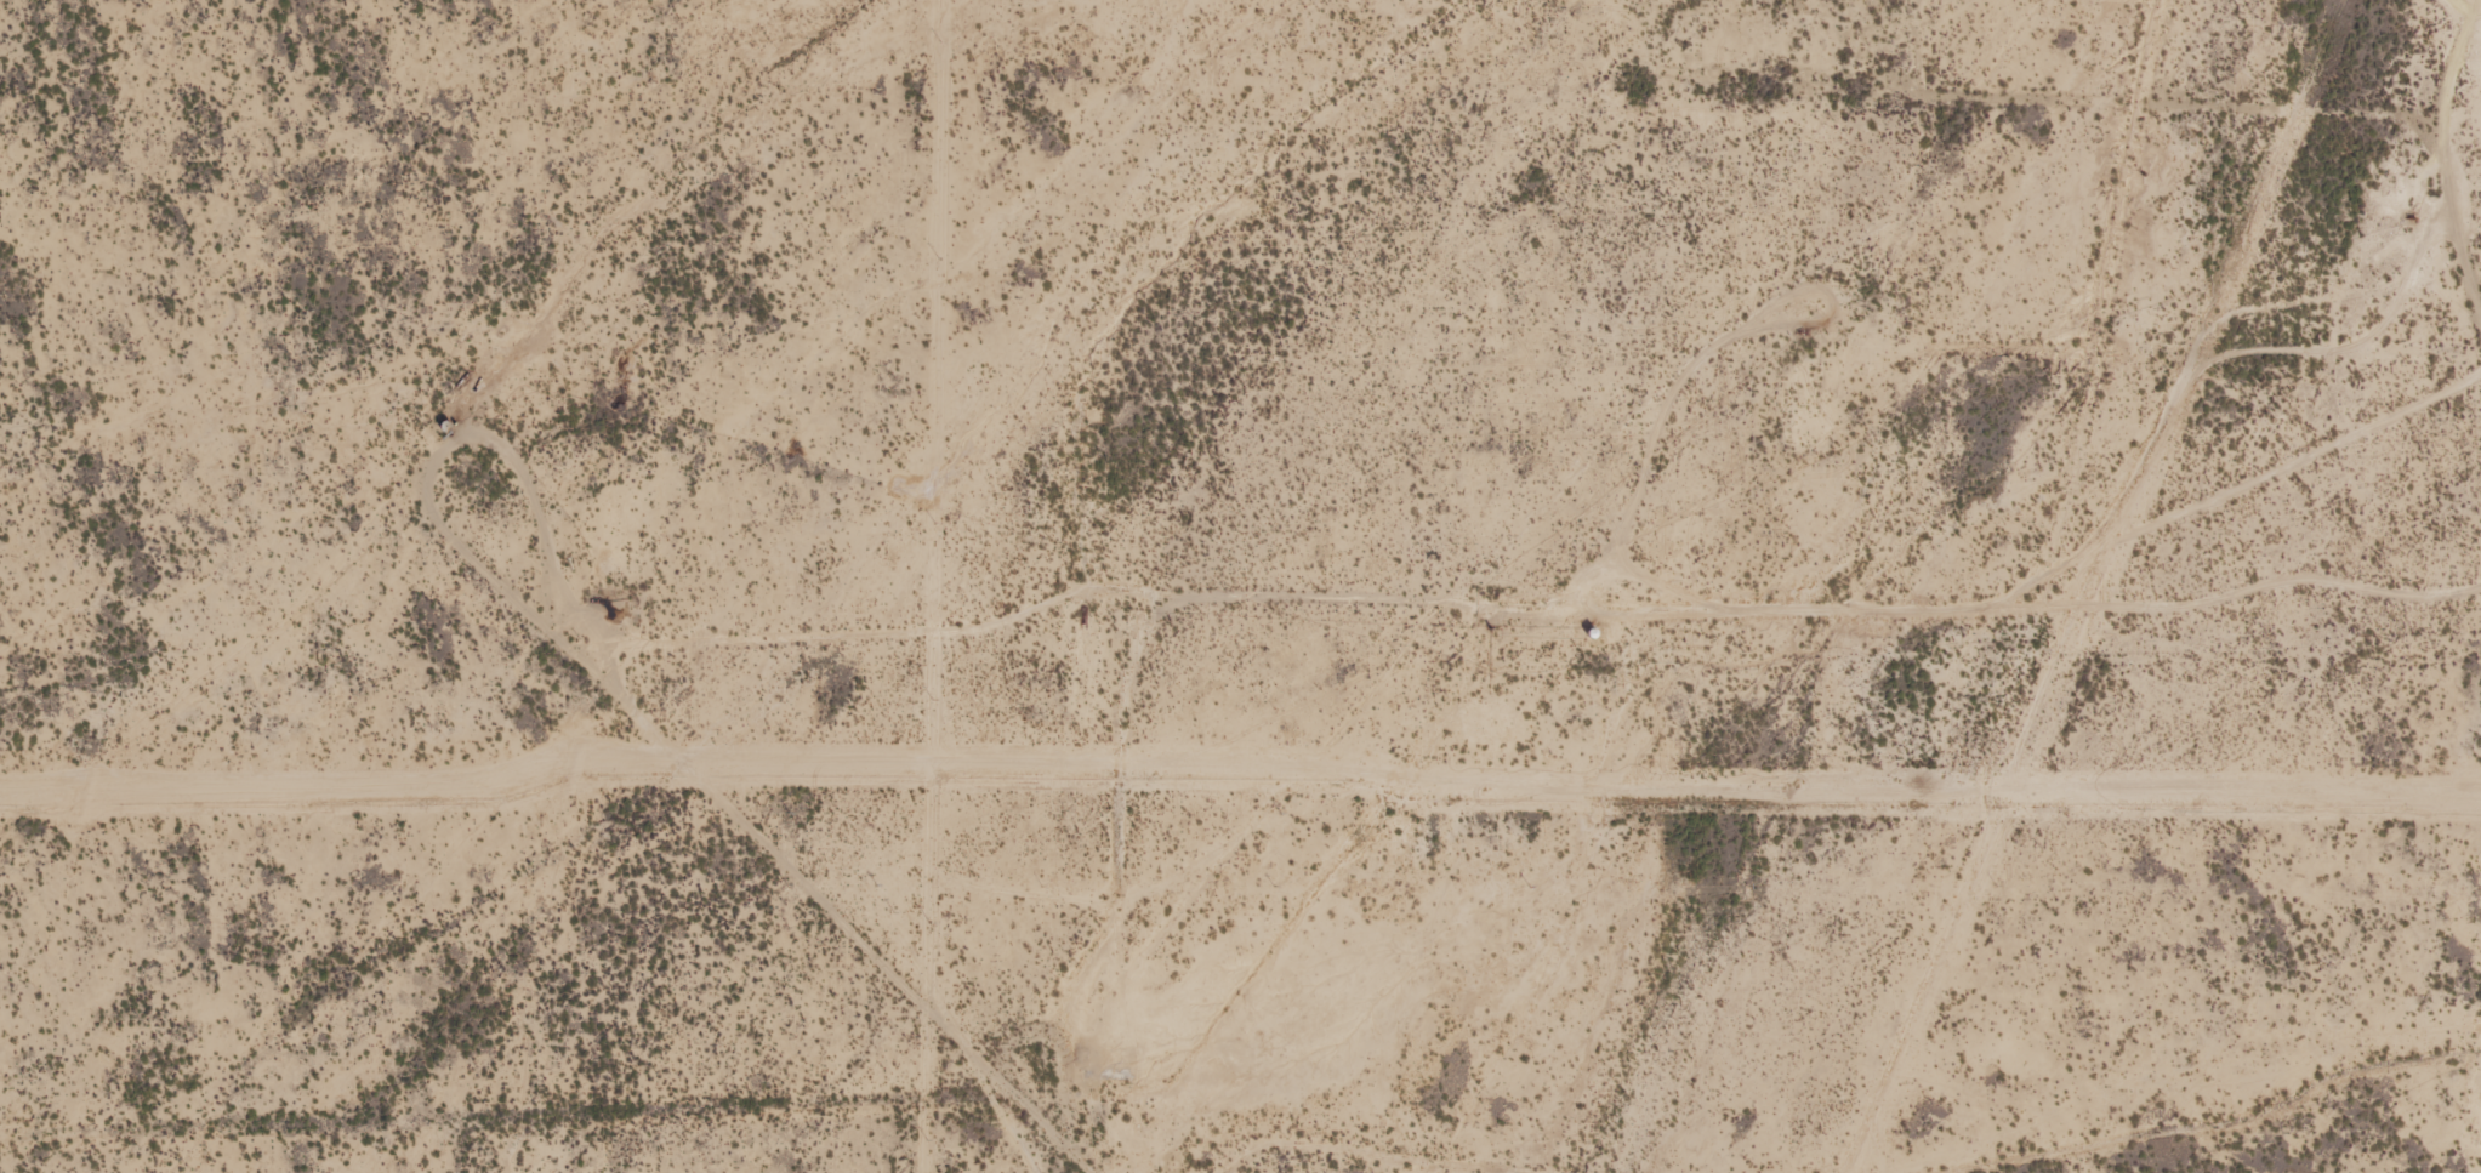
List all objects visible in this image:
road: (2441, 182)
road: (1153, 639)
road: (628, 670)
road: (181, 1172)

